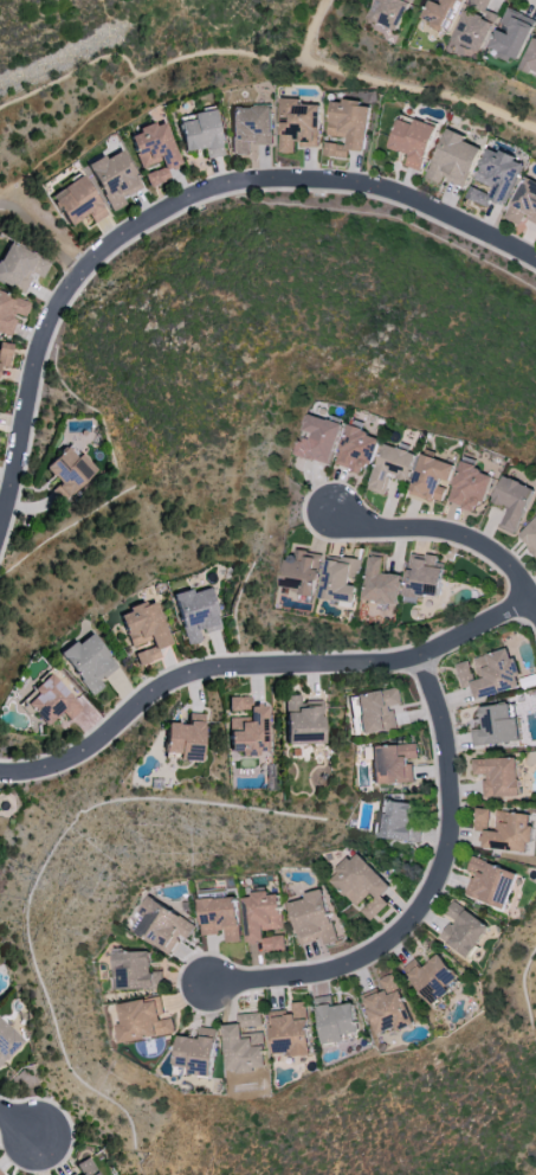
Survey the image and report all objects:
road: (531, 1)
building: (392, 12)
building: (443, 13)
building: (476, 24)
road: (115, 32)
building: (512, 33)
building: (531, 57)
road: (170, 60)
road: (419, 91)
building: (297, 124)
building: (346, 126)
building: (248, 129)
building: (201, 134)
road: (71, 135)
building: (412, 140)
building: (154, 146)
building: (452, 159)
building: (495, 176)
building: (155, 178)
building: (114, 179)
road: (309, 190)
building: (77, 201)
building: (523, 201)
road: (176, 203)
road: (34, 225)
road: (72, 263)
building: (19, 267)
road: (86, 272)
building: (11, 312)
building: (4, 354)
road: (34, 411)
building: (318, 438)
building: (356, 448)
building: (390, 465)
building: (67, 473)
building: (431, 477)
building: (469, 486)
building: (511, 500)
building: (529, 535)
road: (451, 538)
road: (386, 539)
building: (302, 571)
building: (422, 577)
building: (341, 578)
building: (381, 579)
road: (509, 595)
building: (195, 614)
road: (529, 627)
building: (144, 630)
road: (206, 657)
building: (88, 662)
road: (254, 663)
road: (418, 666)
building: (487, 673)
building: (50, 701)
building: (376, 710)
building: (302, 720)
building: (495, 725)
building: (246, 727)
building: (185, 738)
building: (392, 763)
building: (497, 775)
building: (396, 821)
building: (503, 829)
building: (489, 881)
building: (362, 884)
road: (430, 892)
road: (396, 912)
building: (219, 916)
building: (315, 917)
building: (263, 919)
building: (161, 925)
building: (461, 929)
building: (134, 970)
building: (430, 977)
road: (194, 985)
building: (386, 1006)
building: (142, 1019)
building: (335, 1021)
building: (289, 1029)
building: (7, 1041)
building: (243, 1044)
building: (195, 1051)
road: (21, 1123)
building: (84, 1168)
building: (0, 1174)

